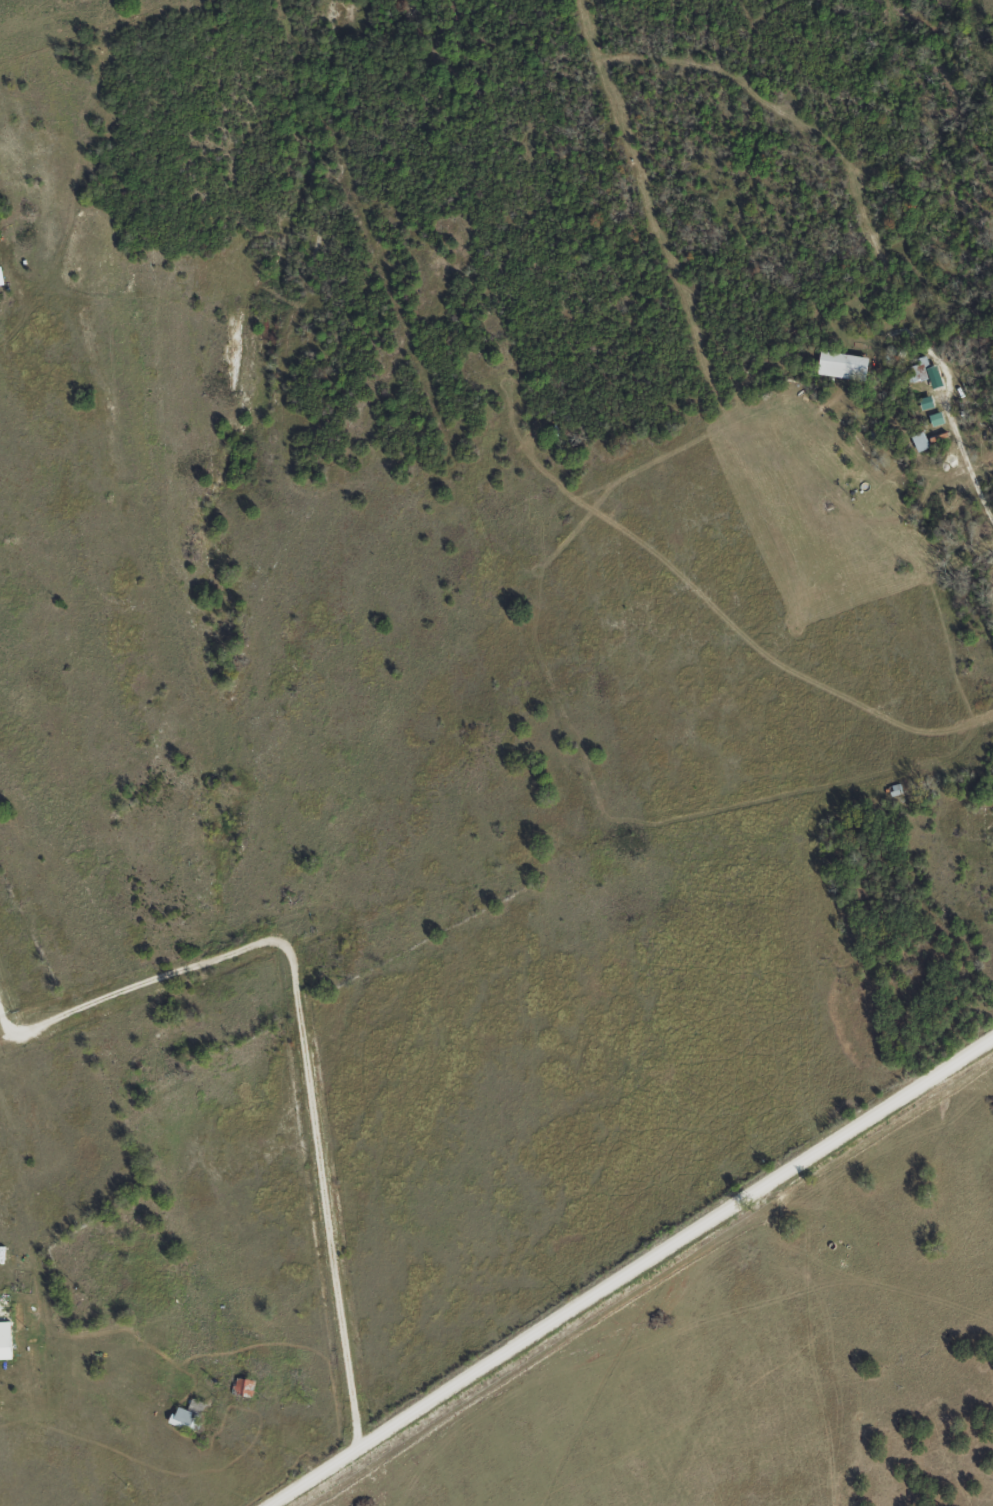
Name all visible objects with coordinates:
building: (0, 283)
building: (840, 365)
building: (918, 440)
building: (894, 789)
road: (224, 1228)
road: (627, 1266)
road: (90, 1328)
building: (4, 1341)
building: (241, 1387)
building: (186, 1414)

